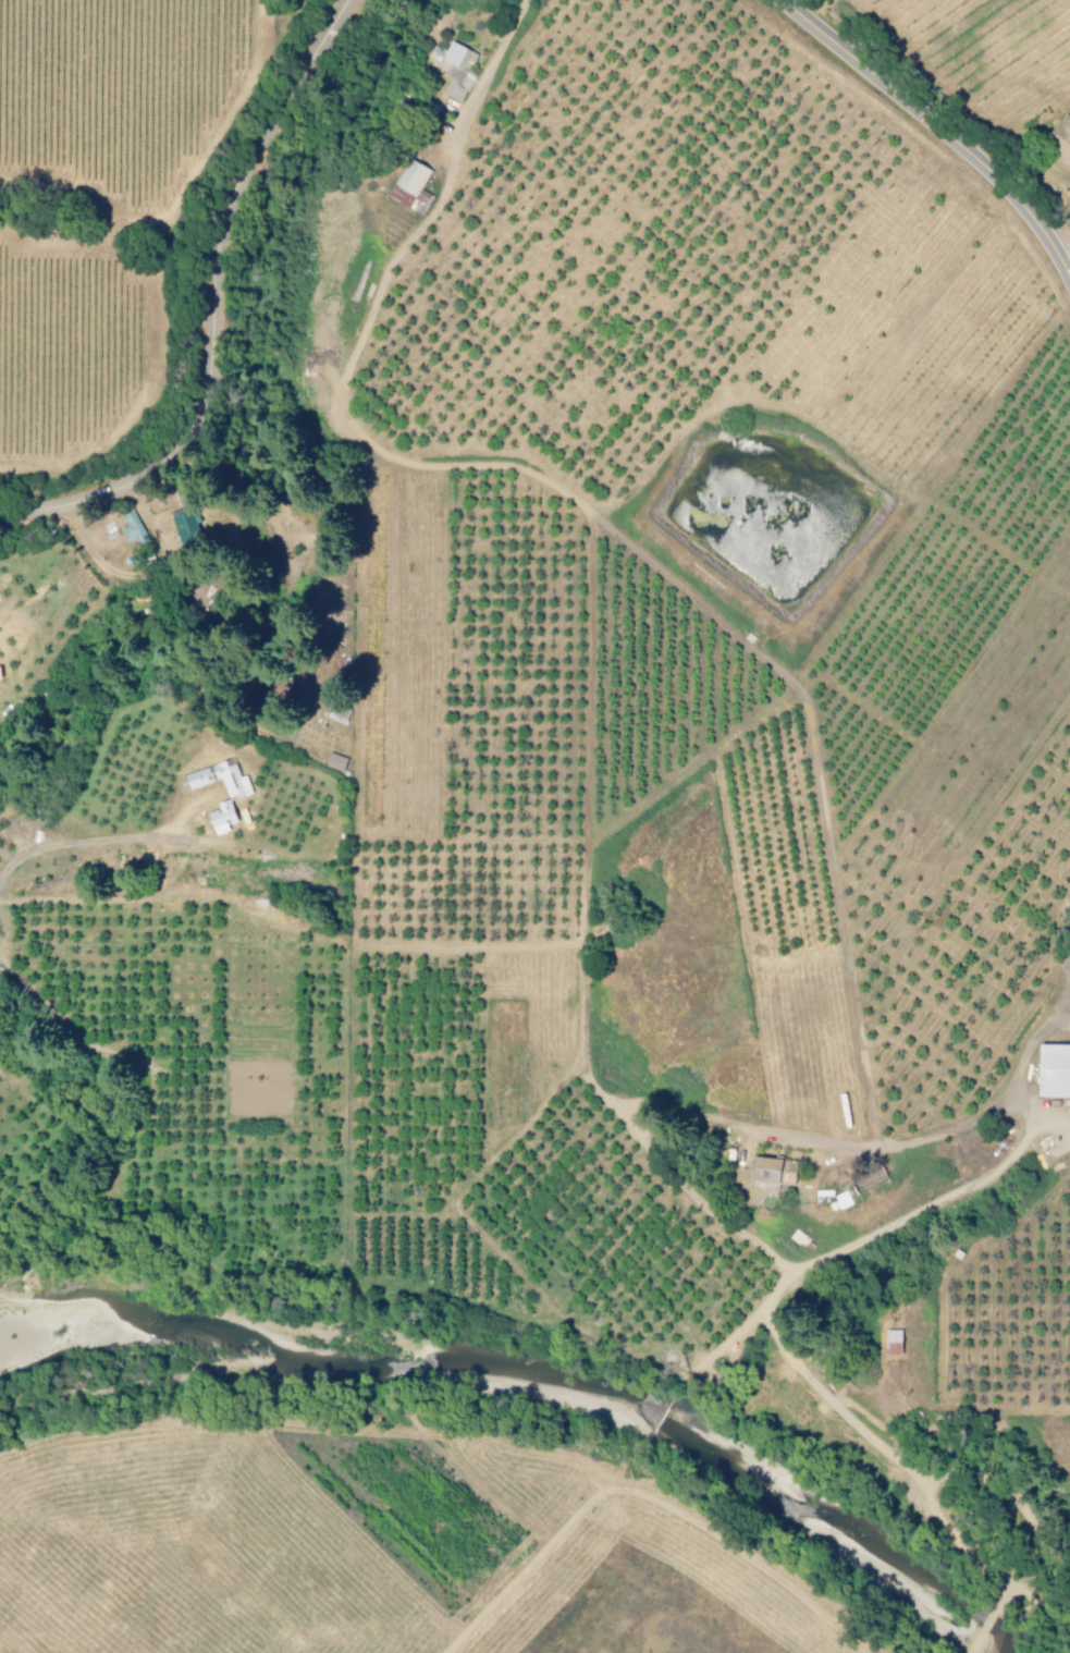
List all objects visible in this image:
building: (453, 70)
road: (939, 120)
building: (1058, 136)
building: (408, 186)
road: (212, 305)
building: (182, 524)
building: (128, 526)
building: (333, 762)
building: (1049, 1070)
building: (766, 1171)
river: (508, 1413)

